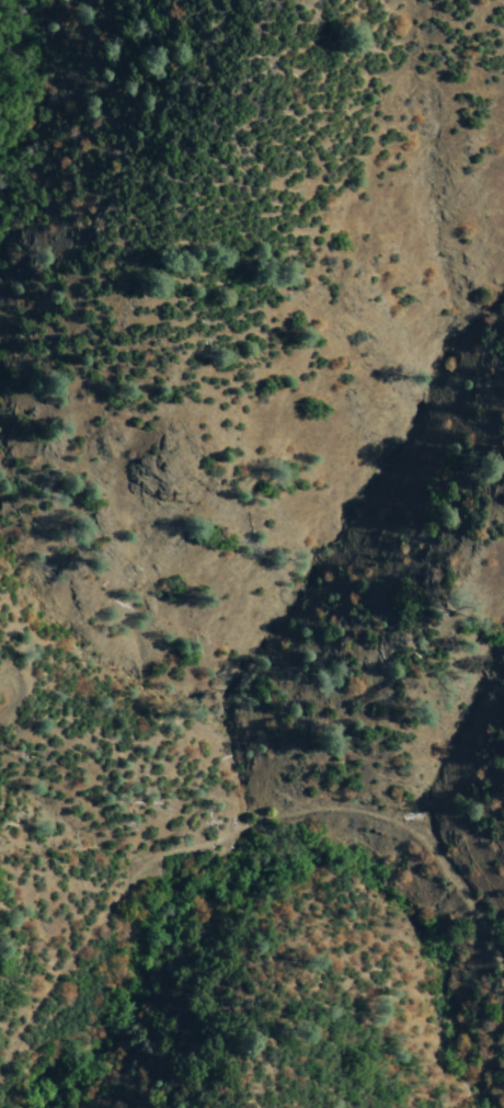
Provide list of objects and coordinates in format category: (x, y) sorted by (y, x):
road: (220, 877)

